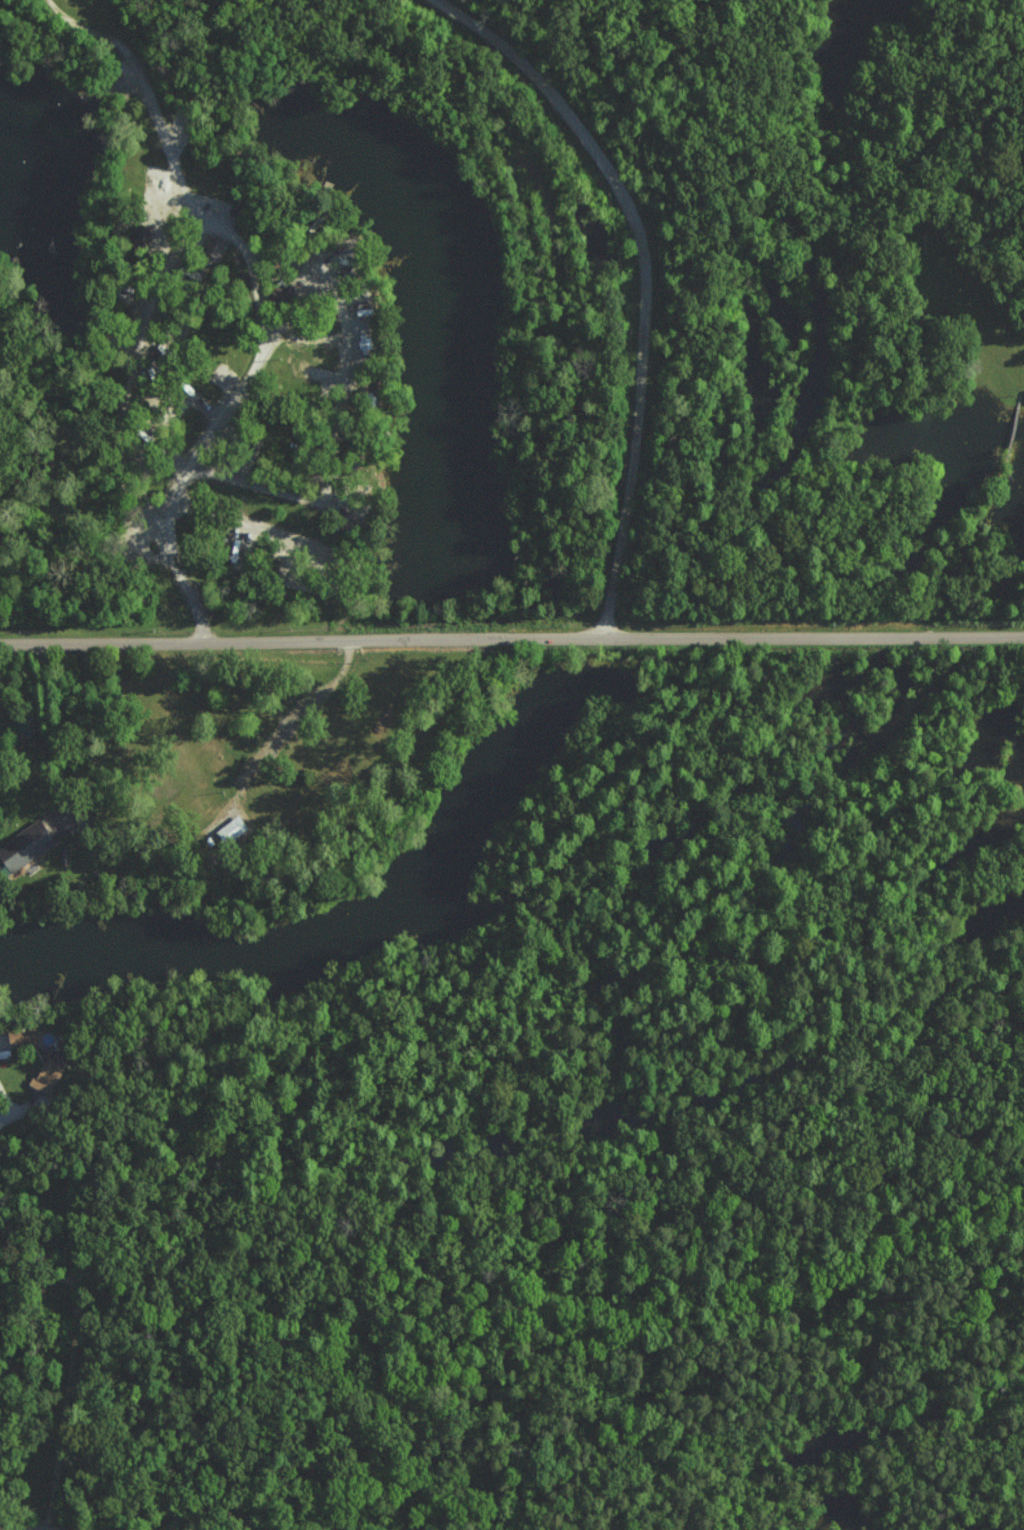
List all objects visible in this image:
building: (140, 235)
building: (211, 246)
road: (166, 272)
road: (259, 295)
road: (320, 491)
road: (511, 637)
building: (229, 829)
building: (23, 846)
road: (235, 876)
building: (19, 1038)
building: (46, 1075)
road: (31, 1528)

